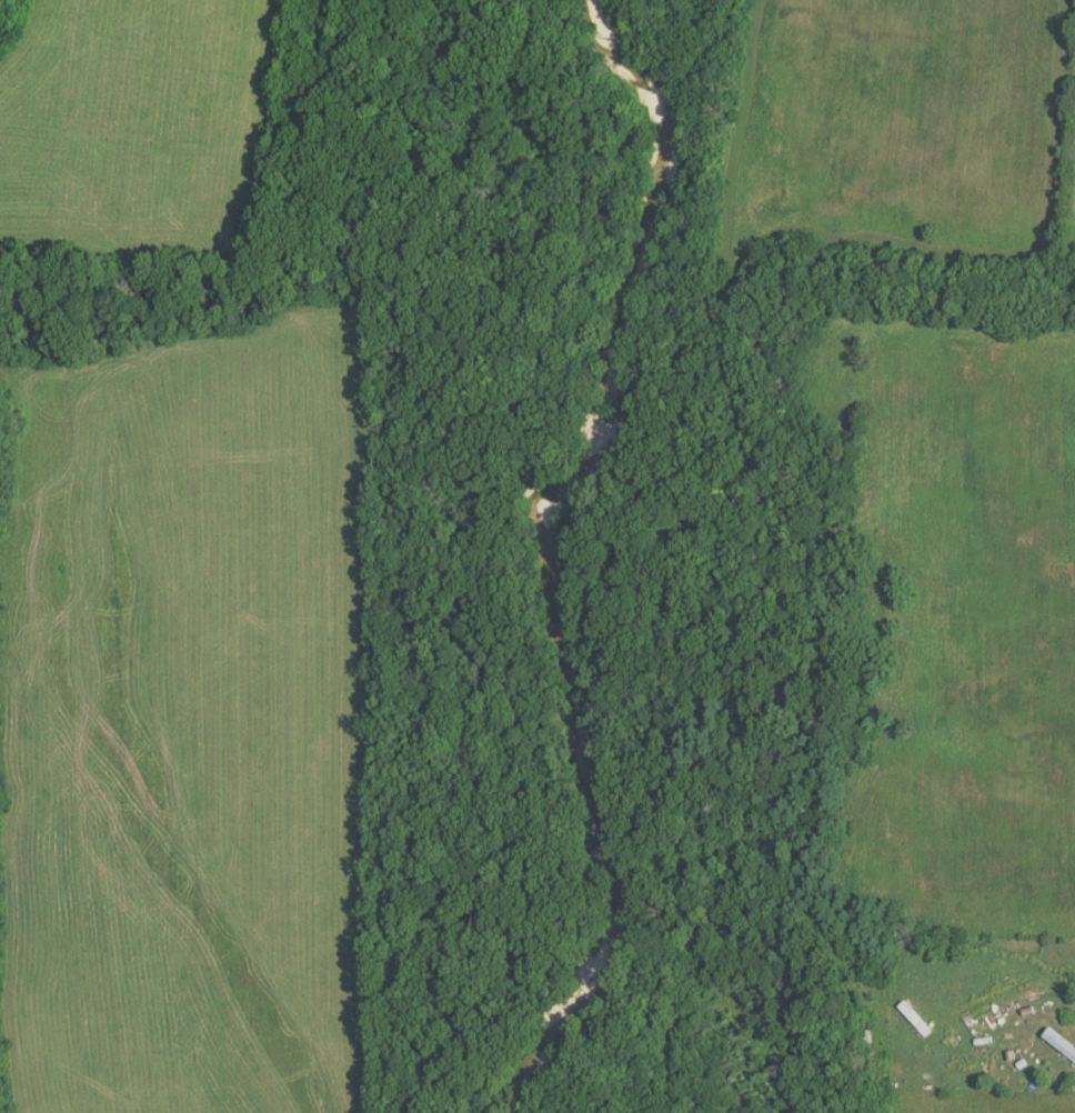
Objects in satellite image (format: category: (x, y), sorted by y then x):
building: (914, 1017)
building: (1061, 1042)

